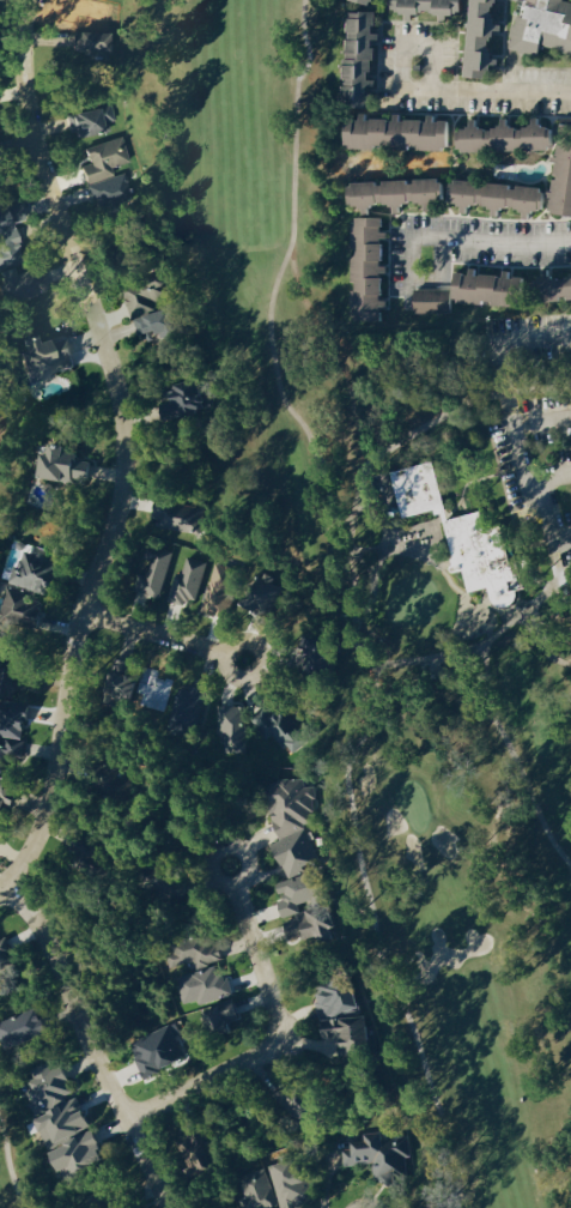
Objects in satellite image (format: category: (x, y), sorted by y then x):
building: (371, 1)
building: (430, 7)
building: (543, 26)
building: (485, 38)
building: (104, 43)
road: (396, 50)
building: (364, 56)
road: (500, 97)
building: (92, 120)
building: (401, 131)
building: (511, 135)
building: (107, 158)
building: (111, 189)
building: (399, 191)
building: (521, 191)
road: (508, 246)
building: (16, 255)
building: (370, 267)
road: (409, 279)
building: (561, 285)
building: (472, 291)
building: (153, 306)
road: (502, 352)
building: (48, 356)
building: (190, 399)
road: (512, 435)
park: (12, 439)
road: (126, 451)
building: (68, 464)
road: (555, 478)
building: (180, 515)
road: (549, 518)
building: (466, 534)
building: (38, 570)
building: (157, 572)
park: (396, 576)
building: (187, 581)
building: (223, 590)
building: (19, 604)
road: (177, 639)
building: (327, 653)
building: (19, 676)
building: (141, 685)
building: (193, 705)
building: (233, 727)
building: (285, 729)
building: (14, 732)
building: (6, 793)
building: (296, 823)
building: (0, 833)
building: (303, 892)
building: (315, 923)
building: (198, 952)
building: (7, 954)
building: (206, 985)
building: (341, 997)
building: (221, 1015)
building: (24, 1026)
building: (356, 1033)
road: (279, 1041)
road: (91, 1045)
building: (160, 1051)
building: (59, 1104)
building: (204, 1148)
building: (83, 1152)
building: (381, 1154)
park: (23, 1155)
building: (280, 1185)

